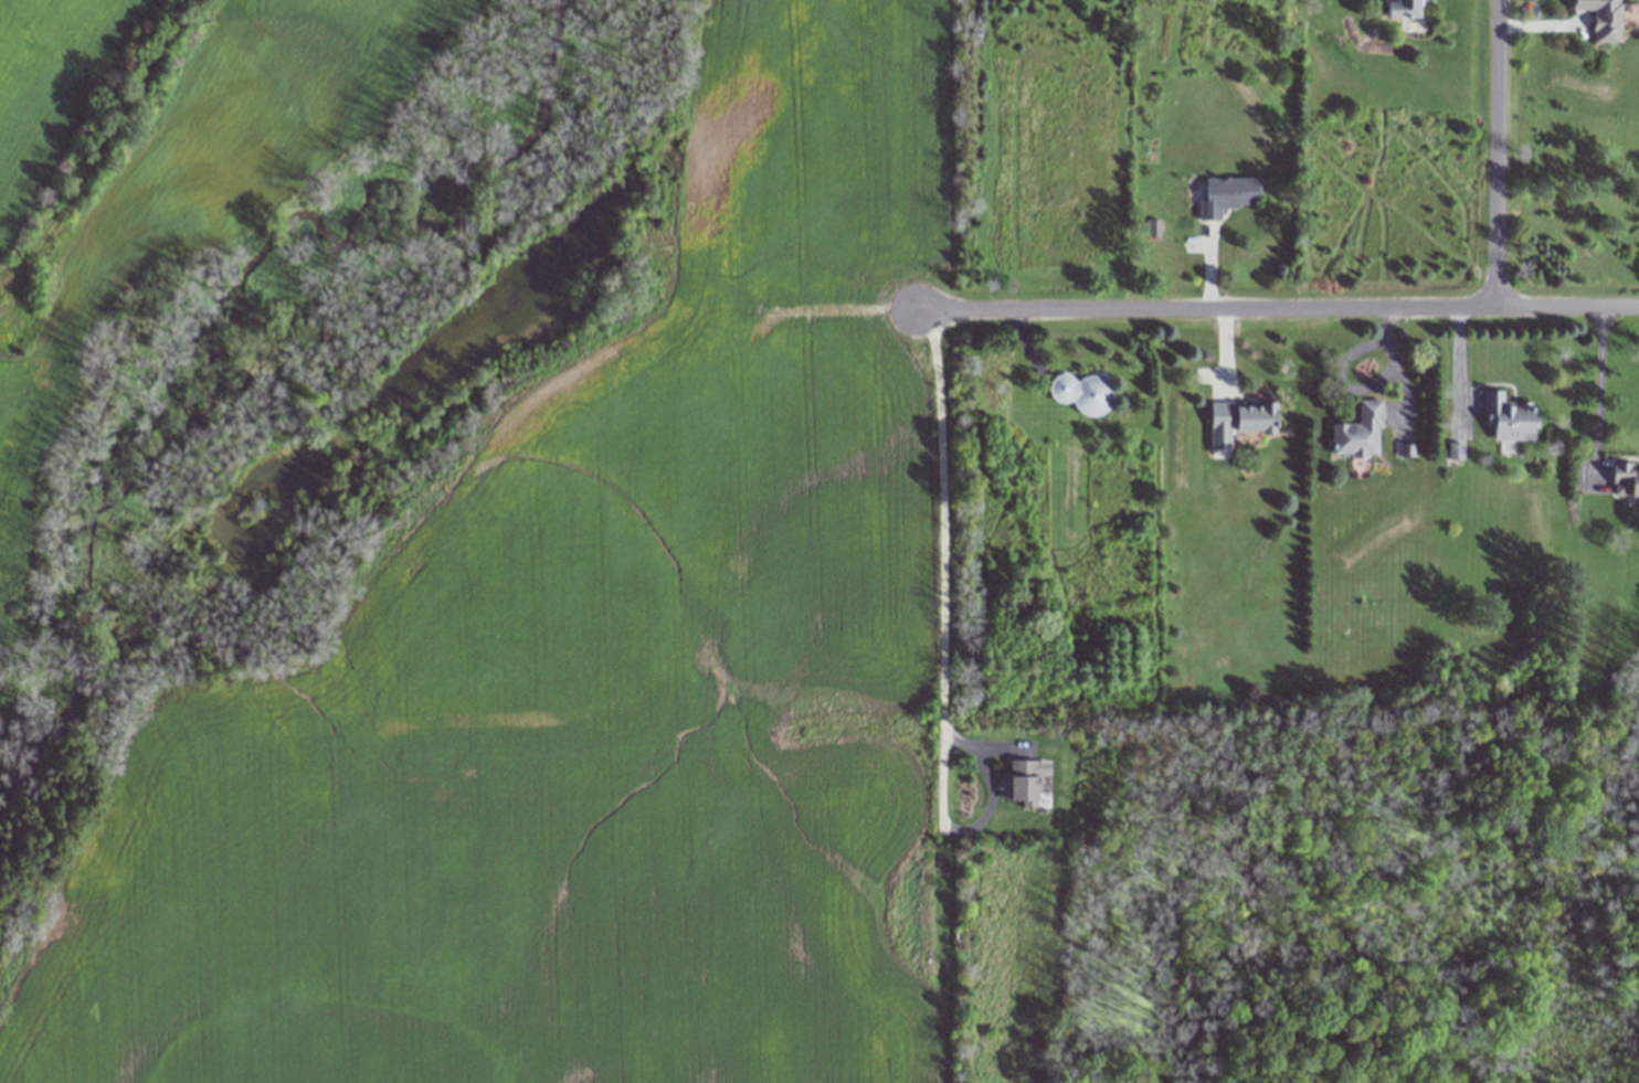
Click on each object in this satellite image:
building: (1407, 8)
building: (1605, 19)
road: (1494, 152)
building: (1229, 195)
road: (1275, 307)
road: (1597, 392)
building: (1082, 394)
building: (1510, 420)
building: (1241, 422)
building: (1360, 433)
building: (1625, 478)
road: (940, 539)
building: (1025, 779)

